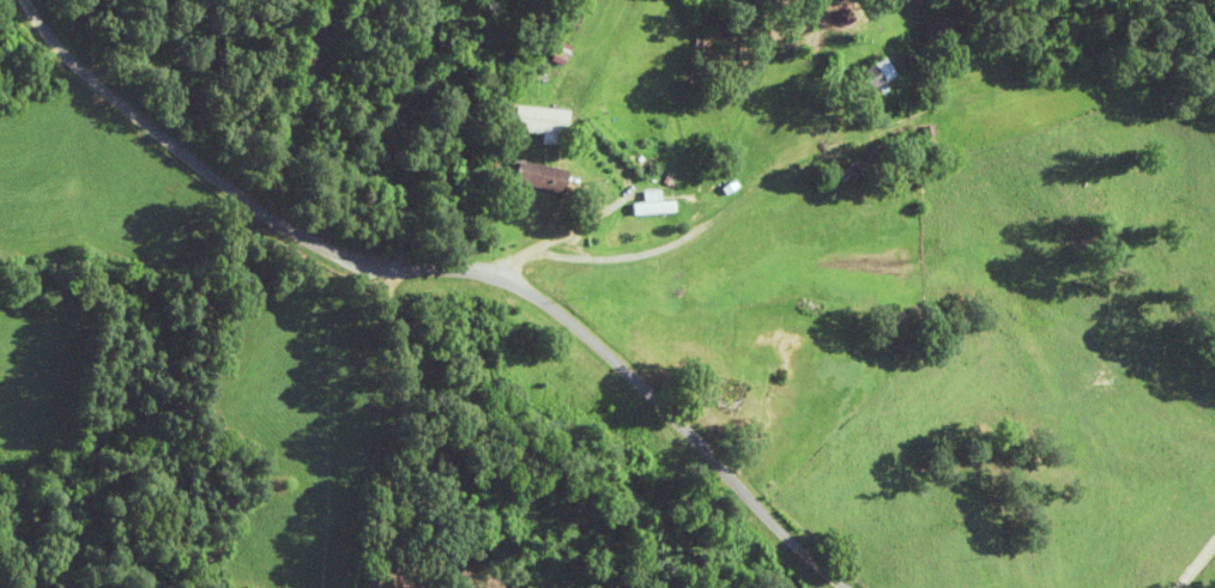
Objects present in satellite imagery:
building: (925, 32)
building: (548, 54)
building: (854, 75)
building: (527, 122)
building: (522, 175)
building: (635, 204)
road: (703, 222)
road: (469, 275)
building: (460, 333)
building: (711, 394)
road: (374, 418)
building: (685, 503)

